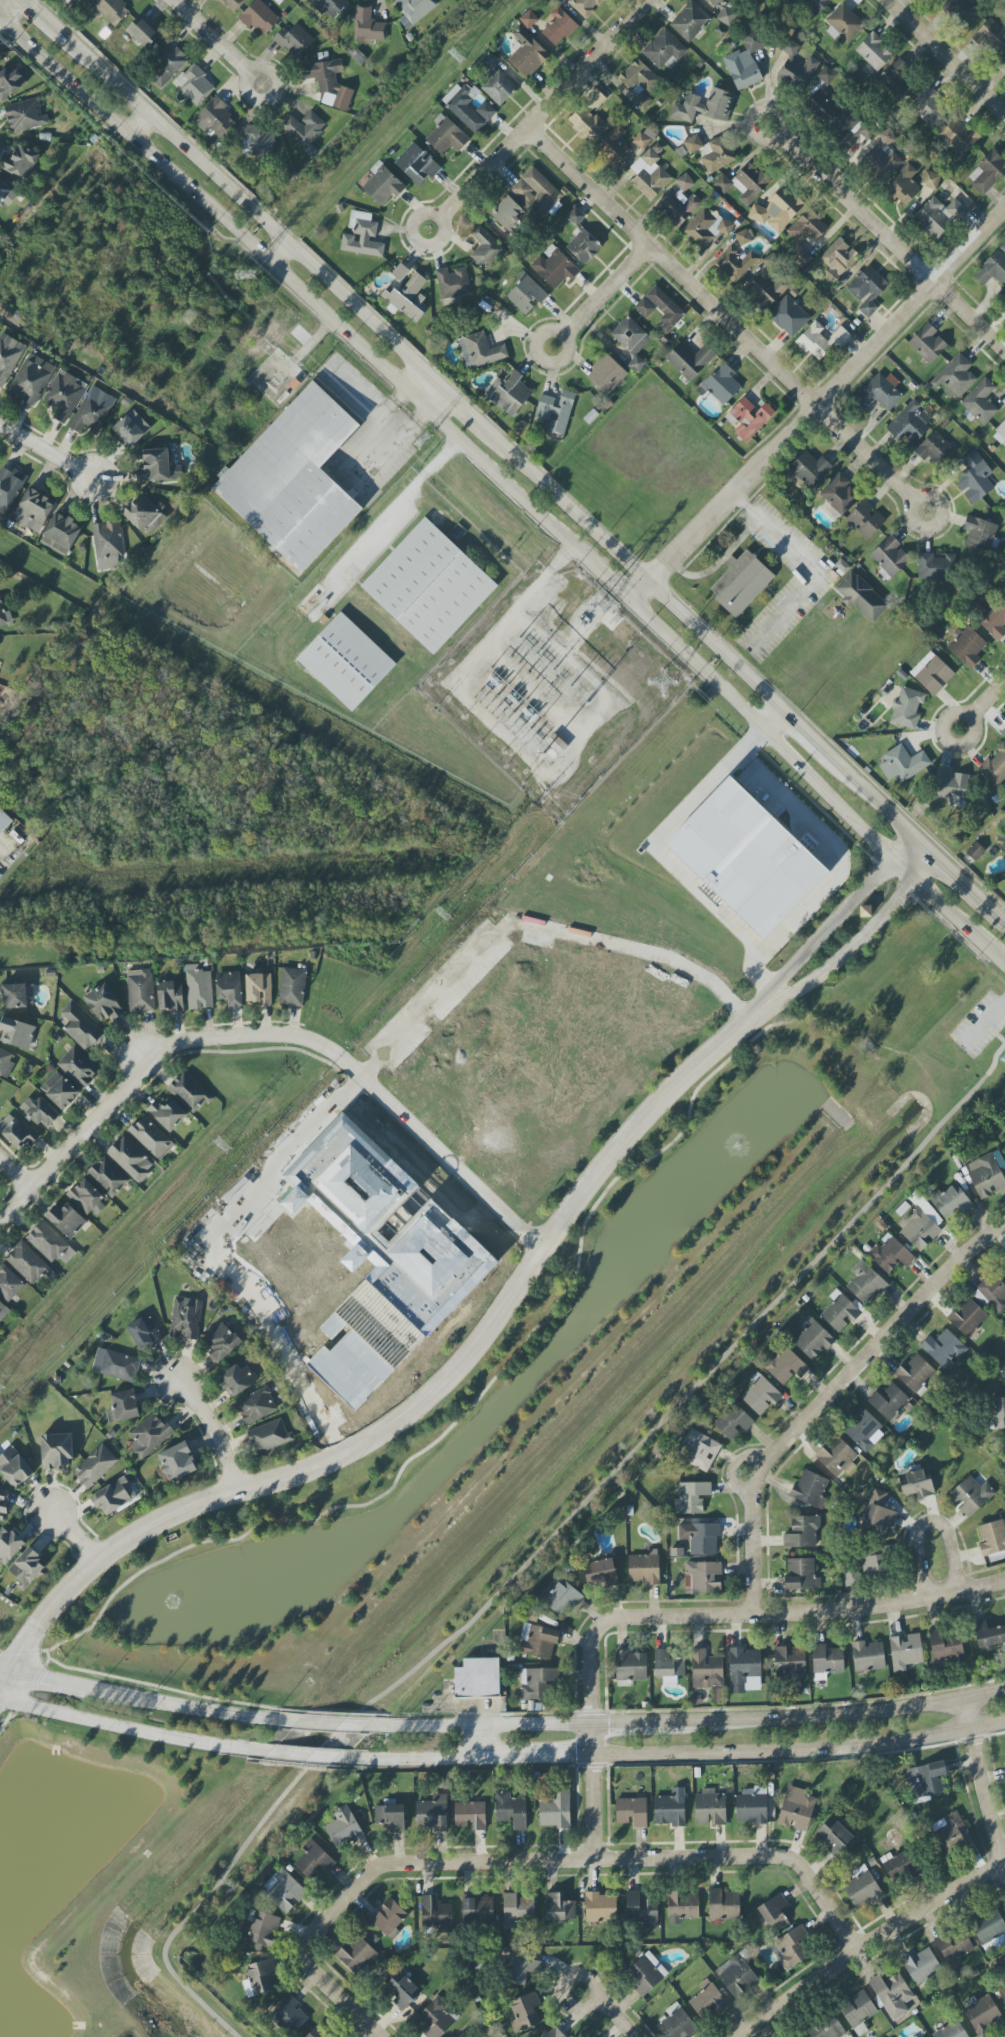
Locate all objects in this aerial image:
road: (4, 4)
building: (232, 4)
building: (816, 5)
building: (331, 6)
building: (584, 6)
building: (416, 9)
building: (111, 10)
building: (960, 11)
building: (724, 13)
building: (259, 17)
building: (528, 19)
building: (690, 21)
building: (843, 24)
road: (50, 25)
building: (368, 25)
building: (558, 27)
building: (143, 32)
building: (991, 36)
road: (211, 38)
building: (294, 40)
building: (664, 50)
building: (527, 54)
building: (873, 54)
road: (946, 55)
power tower: (455, 56)
building: (745, 61)
building: (1003, 62)
building: (165, 65)
building: (796, 67)
road: (250, 76)
building: (826, 76)
building: (638, 78)
building: (329, 81)
building: (496, 82)
building: (11, 83)
building: (896, 83)
building: (194, 85)
building: (595, 100)
building: (642, 101)
building: (704, 105)
building: (821, 107)
building: (930, 107)
road: (545, 109)
building: (486, 111)
road: (757, 113)
building: (25, 116)
building: (215, 118)
building: (586, 124)
road: (137, 125)
building: (303, 128)
building: (847, 130)
building: (446, 136)
building: (959, 136)
building: (641, 140)
building: (258, 142)
building: (693, 144)
building: (613, 147)
building: (718, 154)
building: (883, 158)
building: (20, 162)
building: (417, 164)
building: (987, 172)
building: (649, 175)
building: (930, 180)
building: (684, 182)
building: (745, 183)
building: (383, 185)
building: (903, 186)
building: (4, 193)
building: (537, 193)
building: (680, 207)
building: (777, 211)
building: (508, 213)
road: (257, 216)
building: (939, 217)
road: (440, 218)
building: (807, 227)
building: (705, 228)
building: (743, 237)
building: (363, 240)
building: (582, 240)
road: (893, 243)
building: (485, 247)
road: (277, 254)
building: (799, 256)
building: (837, 259)
building: (735, 264)
building: (554, 267)
building: (992, 269)
building: (399, 271)
power tower: (245, 275)
road: (288, 283)
building: (452, 283)
building: (766, 290)
building: (867, 290)
road: (605, 291)
building: (527, 295)
building: (408, 297)
building: (645, 308)
building: (665, 308)
road: (719, 313)
building: (789, 316)
road: (563, 337)
building: (630, 339)
building: (821, 340)
building: (928, 344)
building: (480, 351)
building: (8, 358)
building: (690, 361)
building: (606, 374)
building: (955, 378)
building: (31, 379)
building: (721, 384)
road: (428, 392)
building: (508, 393)
building: (879, 393)
building: (64, 396)
building: (979, 403)
road: (816, 404)
road: (462, 405)
building: (93, 410)
building: (556, 411)
building: (750, 418)
building: (909, 424)
building: (128, 431)
road: (385, 432)
building: (1000, 433)
building: (935, 450)
road: (46, 451)
building: (158, 467)
building: (810, 469)
building: (973, 477)
building: (294, 479)
building: (10, 487)
road: (410, 489)
building: (839, 494)
road: (910, 499)
building: (36, 506)
building: (144, 515)
building: (866, 519)
building: (61, 533)
building: (979, 534)
building: (108, 546)
building: (890, 556)
building: (935, 567)
road: (637, 571)
road: (603, 575)
road: (822, 575)
building: (741, 583)
building: (429, 586)
building: (1003, 591)
road: (536, 595)
building: (861, 597)
power tower: (599, 603)
building: (5, 617)
building: (992, 620)
building: (967, 647)
building: (346, 662)
building: (932, 673)
power tower: (666, 683)
power substation: (555, 687)
road: (987, 701)
building: (907, 708)
road: (968, 719)
road: (776, 725)
building: (1003, 732)
road: (808, 736)
building: (903, 764)
building: (995, 767)
road: (816, 785)
building: (951, 787)
road: (873, 799)
building: (4, 821)
building: (1002, 840)
building: (975, 851)
road: (906, 852)
road: (657, 856)
building: (747, 858)
road: (842, 859)
road: (951, 873)
road: (995, 913)
power tower: (441, 919)
road: (536, 929)
road: (818, 941)
road: (849, 951)
building: (292, 987)
building: (229, 988)
building: (258, 988)
building: (198, 989)
building: (140, 992)
building: (16, 995)
building: (170, 995)
building: (103, 1003)
road: (985, 1023)
parking lot: (980, 1026)
building: (80, 1027)
building: (16, 1033)
road: (275, 1034)
road: (1001, 1038)
building: (1003, 1057)
building: (6, 1061)
building: (78, 1067)
building: (59, 1090)
building: (189, 1092)
building: (40, 1112)
building: (168, 1114)
building: (20, 1134)
building: (151, 1137)
power tower: (230, 1148)
building: (131, 1159)
road: (14, 1174)
building: (986, 1176)
building: (107, 1177)
building: (86, 1198)
building: (951, 1201)
building: (66, 1220)
building: (920, 1222)
building: (46, 1242)
building: (891, 1254)
road: (210, 1259)
building: (381, 1260)
building: (28, 1263)
building: (9, 1283)
building: (866, 1283)
building: (994, 1293)
building: (2, 1308)
building: (840, 1312)
building: (186, 1318)
building: (968, 1318)
building: (144, 1333)
building: (813, 1339)
building: (222, 1342)
building: (944, 1349)
building: (116, 1365)
building: (785, 1367)
building: (1002, 1372)
building: (915, 1373)
building: (238, 1380)
power tower: (0, 1389)
building: (760, 1395)
road: (828, 1395)
building: (888, 1401)
building: (123, 1406)
building: (256, 1406)
road: (414, 1410)
building: (998, 1413)
road: (461, 1419)
building: (733, 1422)
building: (864, 1430)
road: (213, 1431)
building: (149, 1436)
building: (269, 1436)
building: (1004, 1448)
building: (56, 1451)
building: (836, 1457)
building: (177, 1462)
building: (95, 1466)
building: (14, 1467)
building: (917, 1483)
building: (810, 1489)
building: (114, 1496)
building: (971, 1496)
building: (691, 1497)
building: (3, 1503)
building: (878, 1515)
road: (929, 1524)
building: (802, 1532)
road: (72, 1533)
building: (700, 1537)
building: (992, 1538)
road: (548, 1542)
building: (9, 1545)
building: (26, 1567)
building: (644, 1568)
building: (864, 1569)
building: (602, 1574)
building: (801, 1574)
building: (704, 1577)
fountain: (210, 1594)
building: (562, 1598)
road: (754, 1613)
building: (988, 1634)
building: (538, 1641)
building: (947, 1647)
building: (905, 1651)
building: (868, 1656)
building: (826, 1661)
building: (669, 1664)
building: (790, 1664)
building: (631, 1666)
building: (706, 1670)
building: (745, 1670)
road: (2, 1672)
road: (42, 1678)
building: (475, 1678)
building: (537, 1684)
road: (18, 1690)
road: (184, 1703)
road: (831, 1716)
road: (624, 1722)
road: (334, 1723)
road: (486, 1723)
road: (129, 1724)
road: (484, 1741)
road: (799, 1750)
road: (306, 1755)
road: (538, 1756)
road: (419, 1758)
road: (983, 1773)
building: (926, 1781)
road: (594, 1790)
building: (751, 1806)
building: (670, 1808)
building: (710, 1808)
building: (555, 1809)
building: (796, 1809)
building: (510, 1810)
building: (632, 1812)
building: (432, 1813)
building: (470, 1815)
building: (391, 1817)
building: (344, 1828)
building: (951, 1834)
building: (835, 1835)
road: (531, 1860)
building: (313, 1861)
building: (900, 1867)
building: (862, 1888)
building: (284, 1890)
building: (724, 1904)
building: (682, 1906)
building: (600, 1907)
building: (559, 1908)
building: (478, 1910)
building: (517, 1910)
building: (642, 1910)
building: (435, 1912)
building: (774, 1913)
building: (389, 1917)
building: (263, 1929)
building: (989, 1929)
road: (873, 1944)
building: (954, 1947)
building: (792, 1948)
building: (356, 1955)
building: (921, 1966)
building: (520, 1971)
building: (646, 1973)
building: (261, 1976)
building: (737, 1976)
building: (403, 1991)
building: (892, 1994)
building: (1002, 1994)
building: (708, 2000)
road: (578, 2008)
building: (858, 2009)
building: (525, 2012)
building: (983, 2014)
building: (290, 2015)
road: (616, 2017)
building: (437, 2018)
building: (677, 2023)
building: (827, 2028)
building: (951, 2030)
building: (317, 2033)
building: (554, 2033)
building: (466, 2034)
road: (381, 2035)

